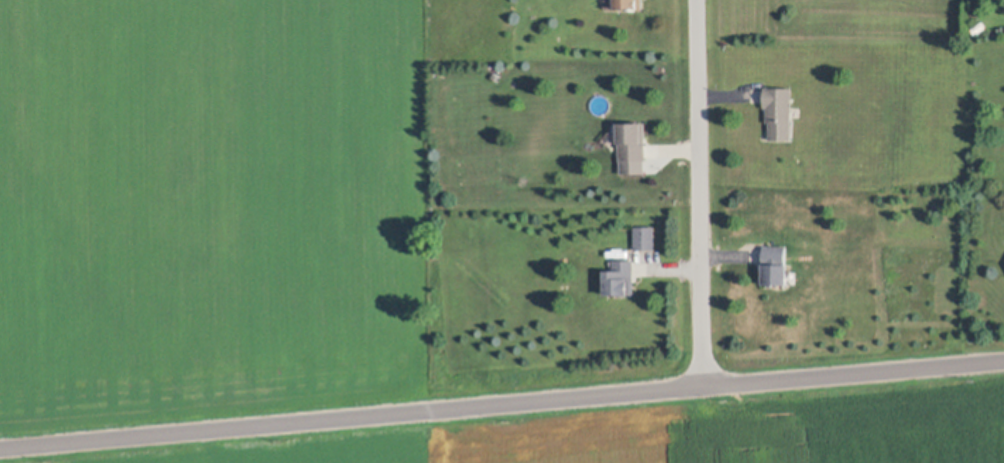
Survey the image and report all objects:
building: (630, 6)
building: (778, 111)
building: (632, 143)
road: (699, 192)
building: (646, 236)
building: (777, 267)
building: (622, 278)
road: (501, 401)
road: (704, 423)

